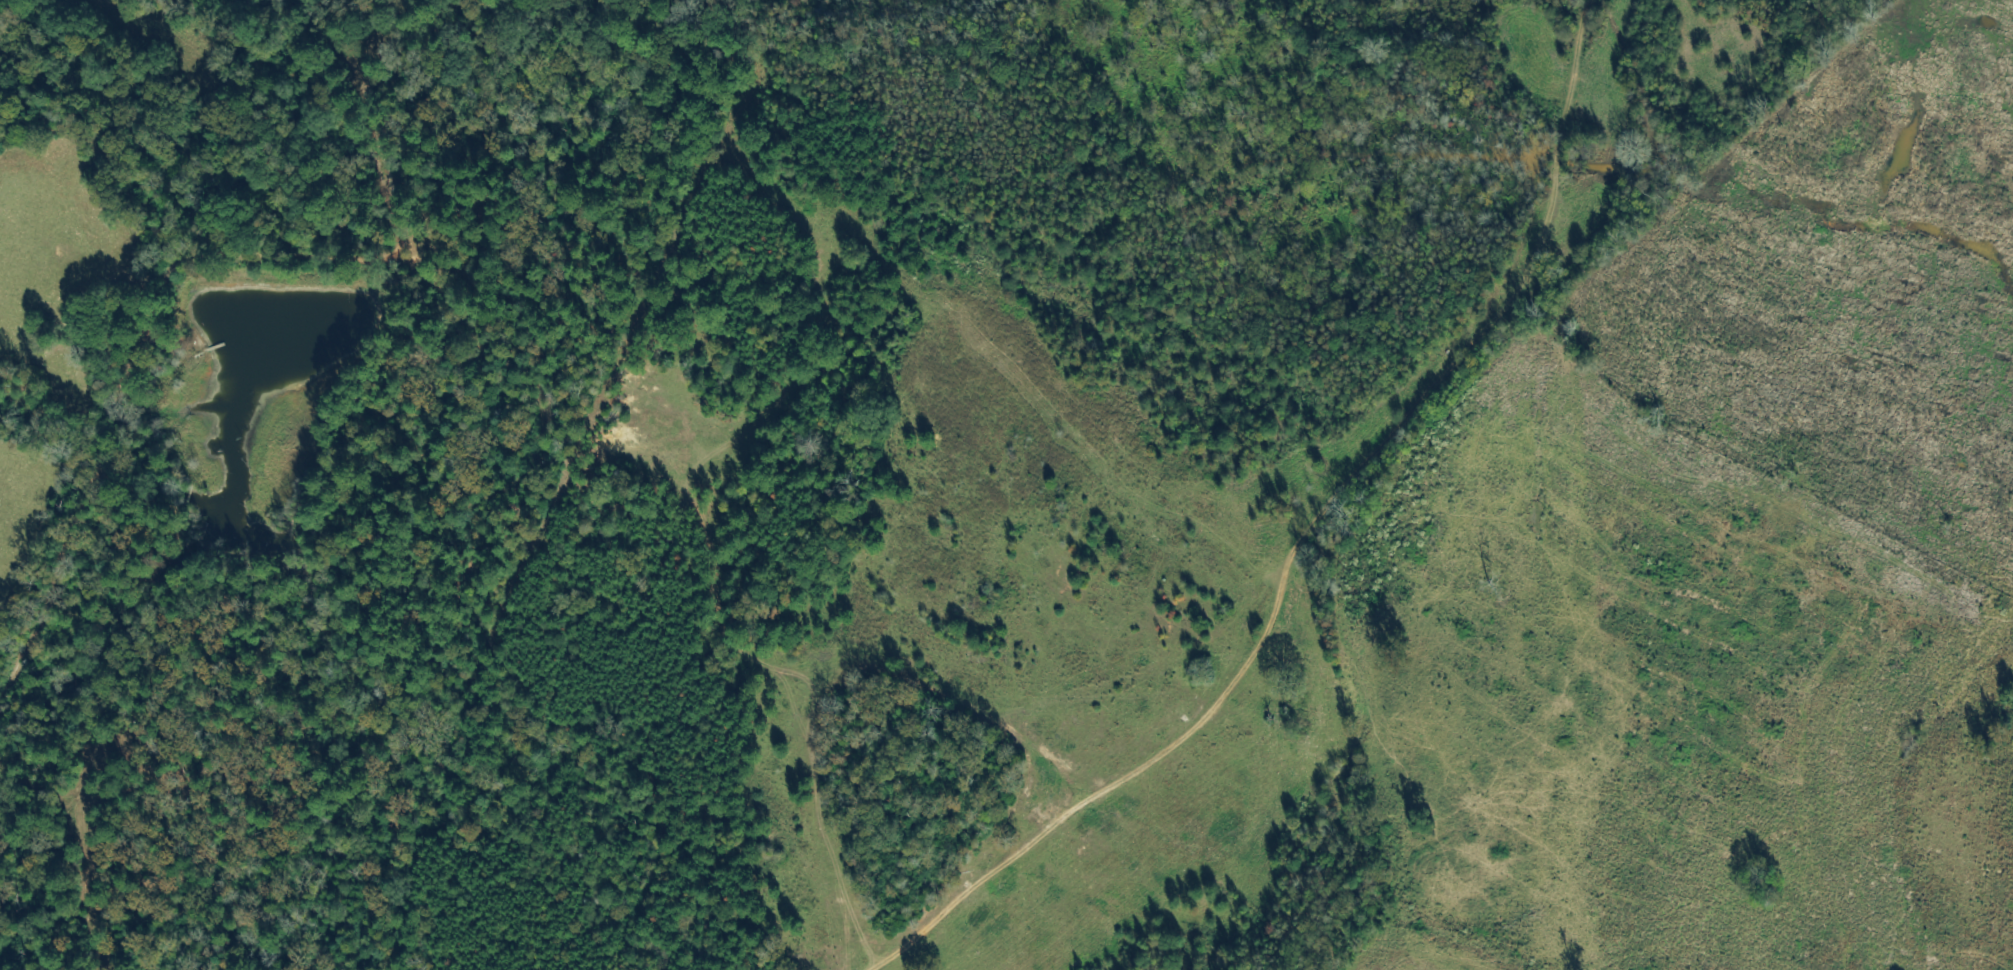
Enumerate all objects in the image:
road: (63, 478)

